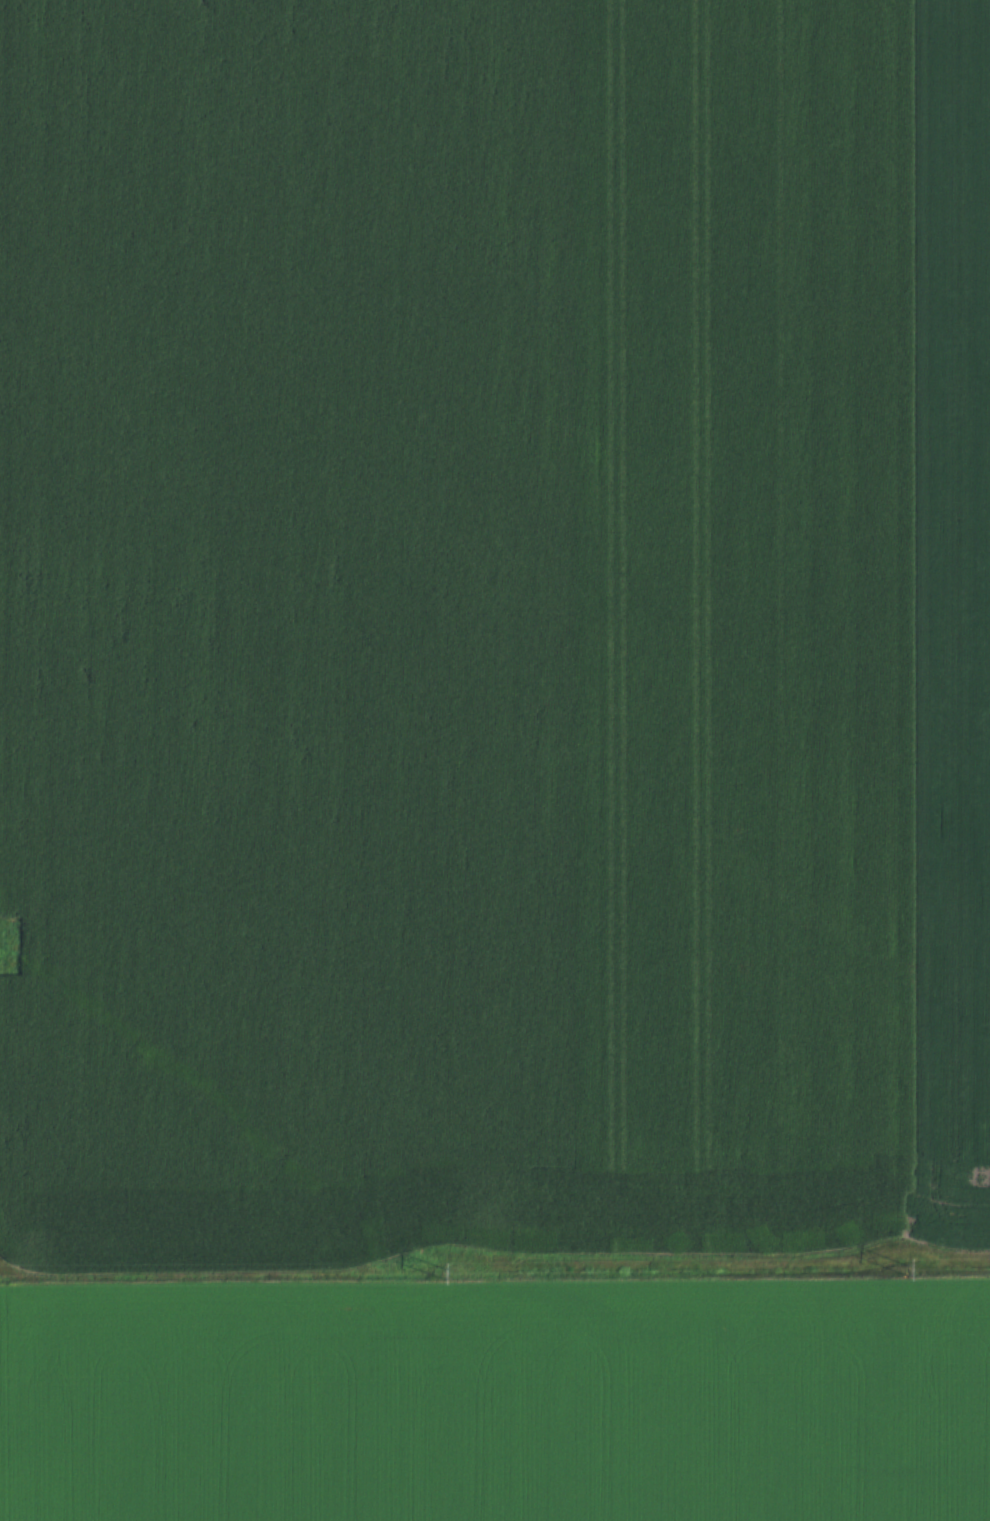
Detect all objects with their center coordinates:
power tower: (906, 1270)
power tower: (442, 1273)

